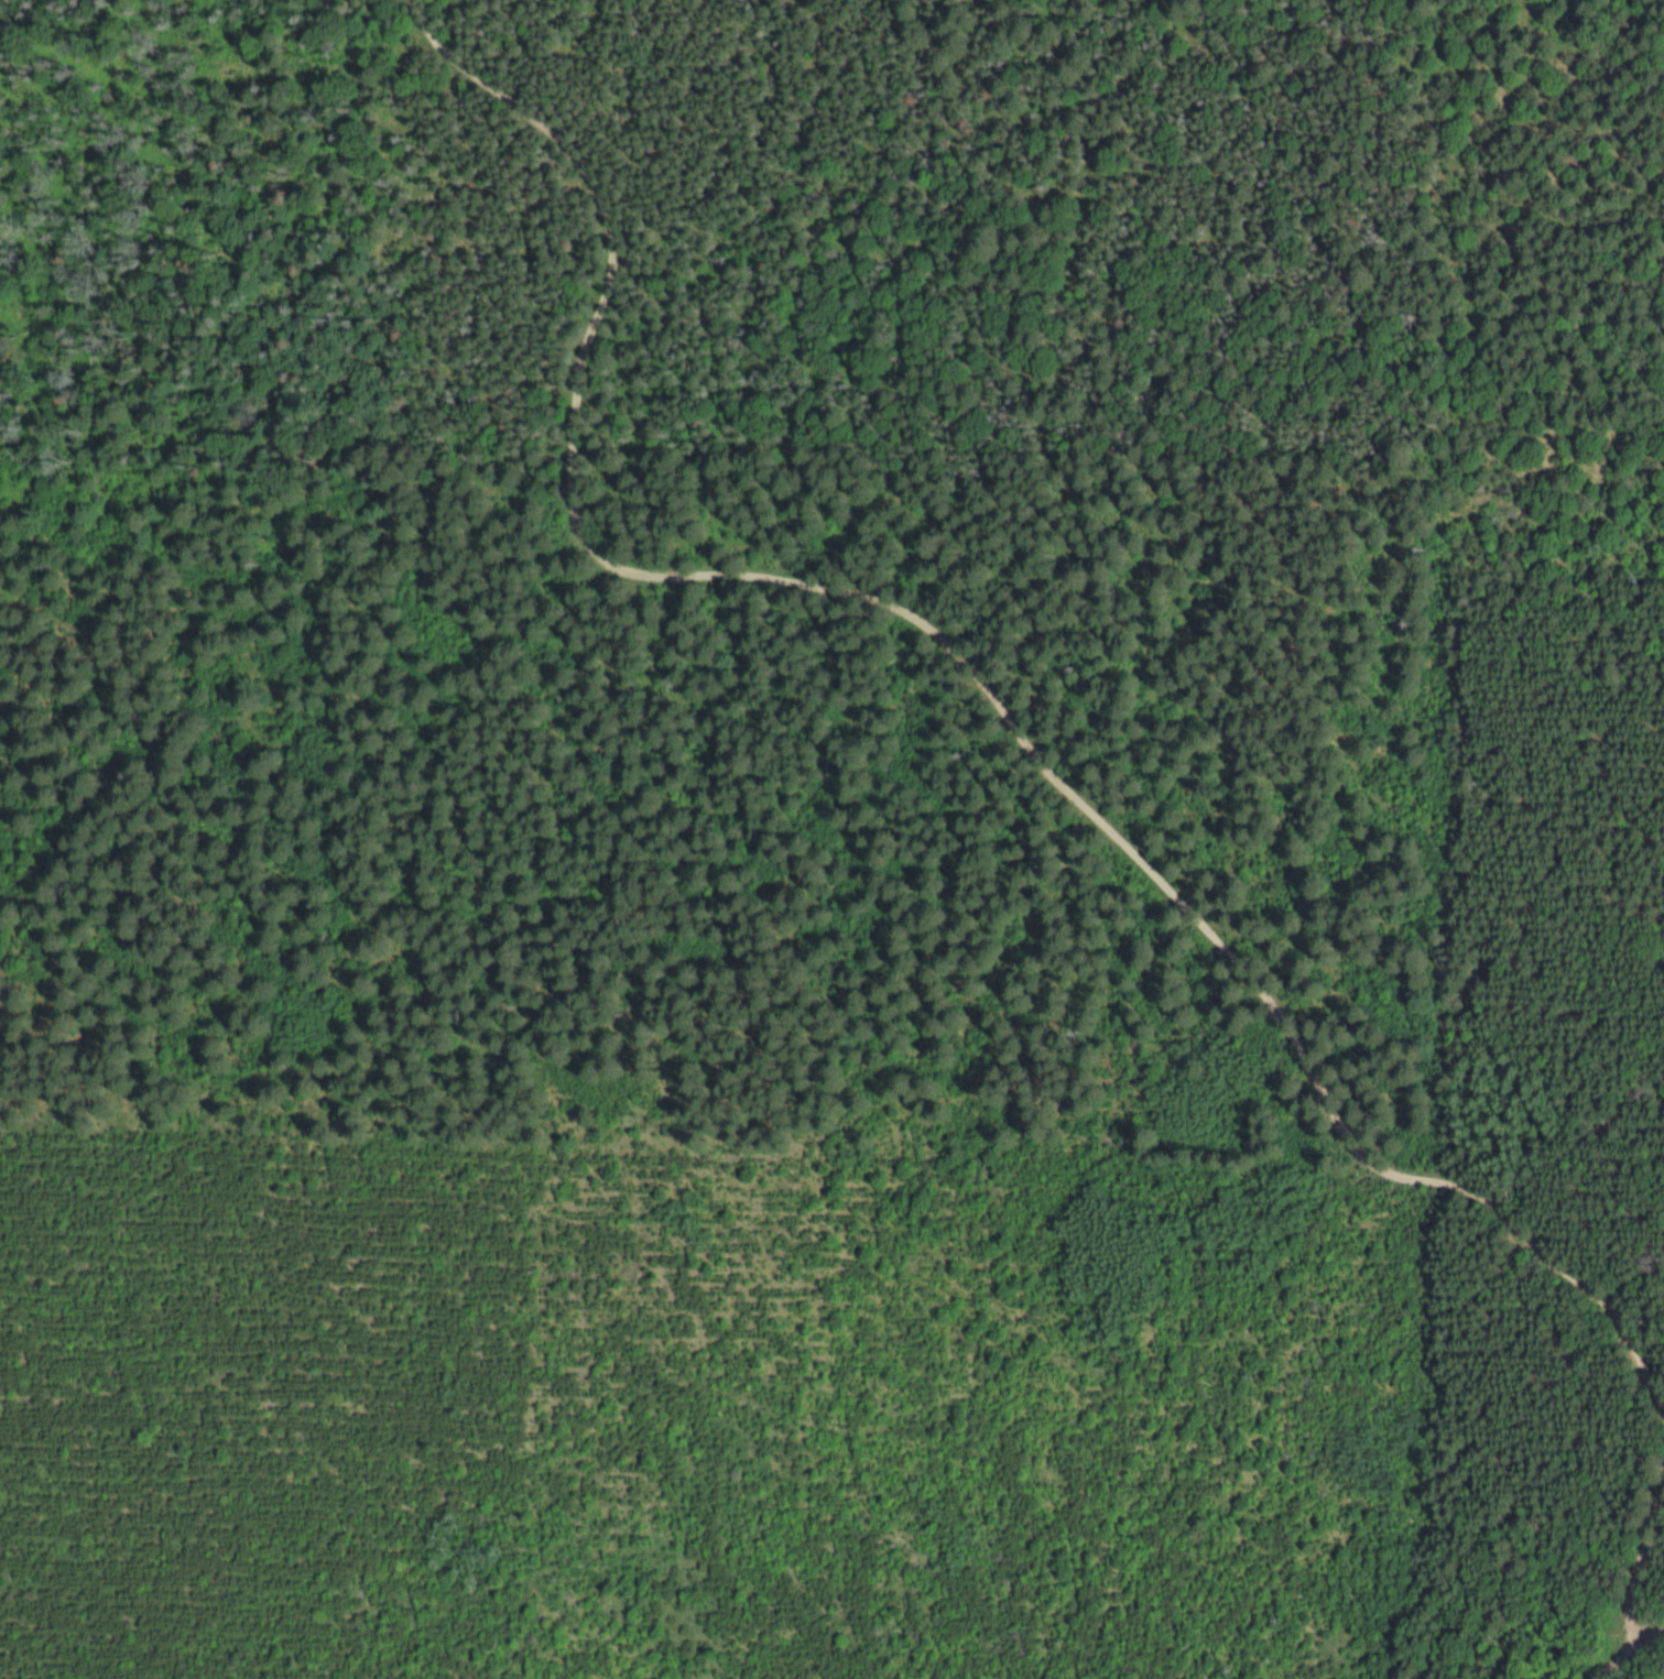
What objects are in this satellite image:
road: (1057, 797)
road: (1619, 1651)

